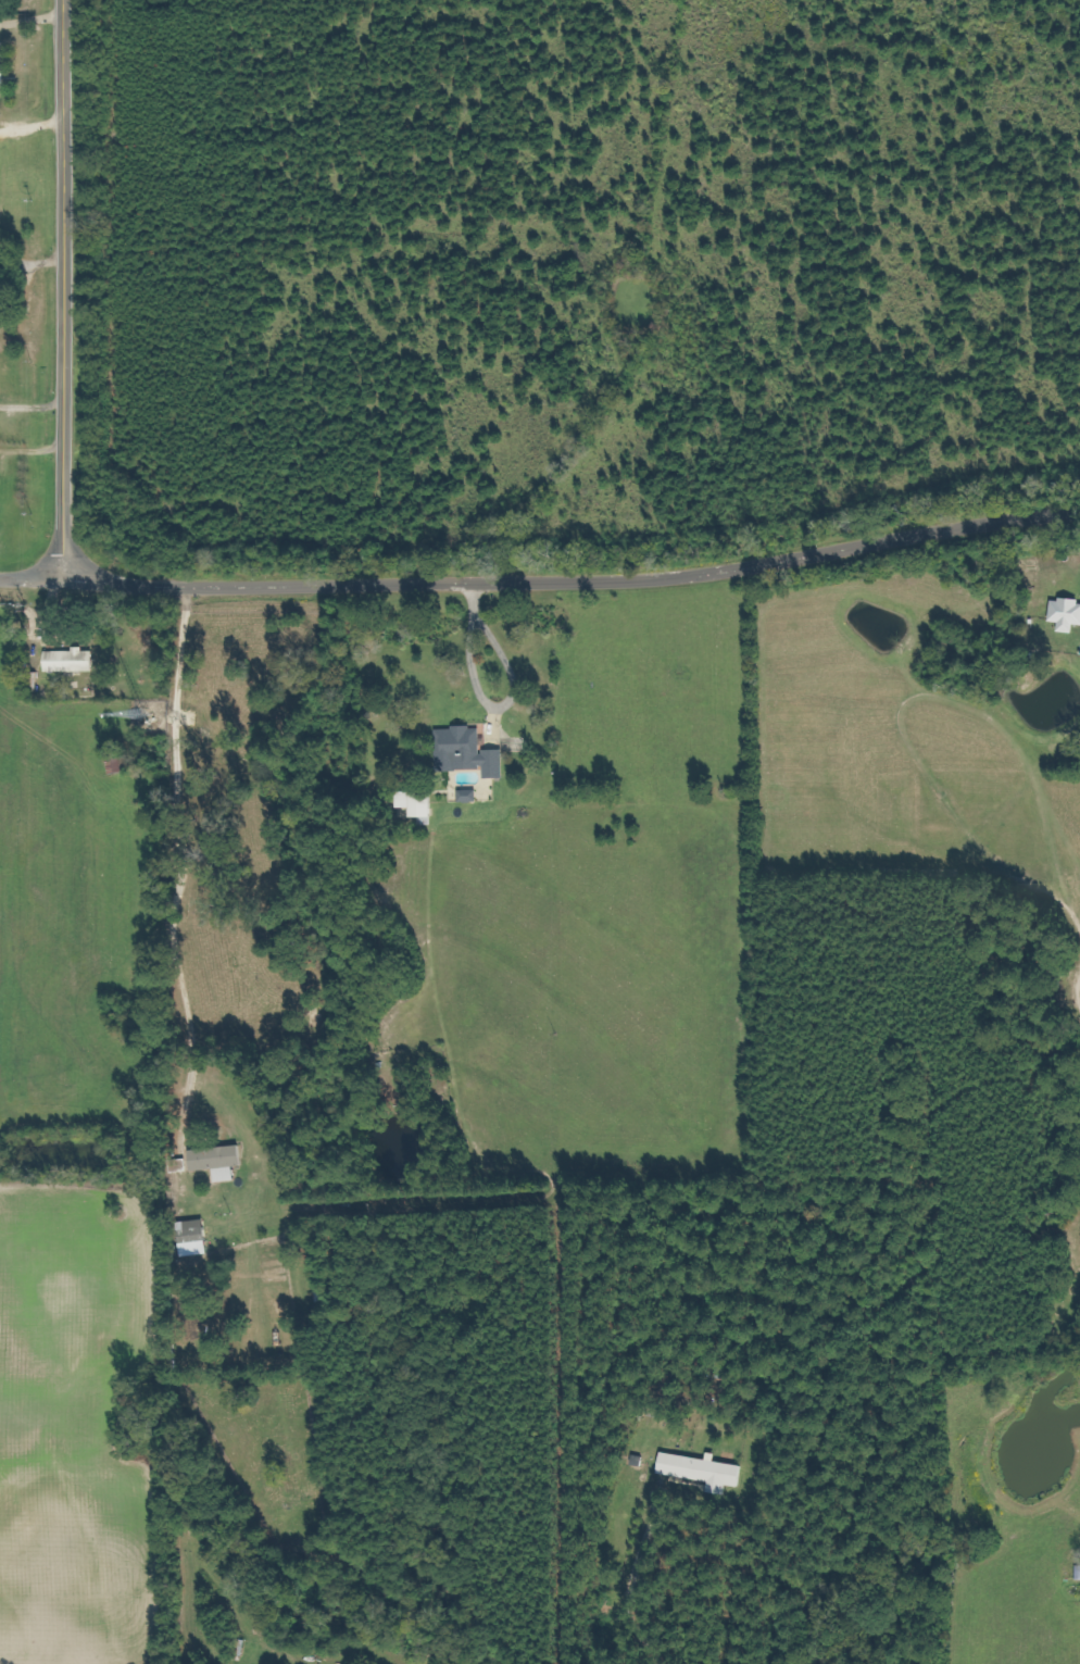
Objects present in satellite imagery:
building: (3, 75)
building: (0, 175)
road: (60, 289)
building: (0, 389)
road: (30, 579)
road: (573, 581)
building: (1068, 615)
building: (75, 661)
building: (470, 753)
building: (474, 796)
building: (422, 803)
building: (223, 1162)
building: (199, 1238)
building: (700, 1471)
building: (1079, 1574)

